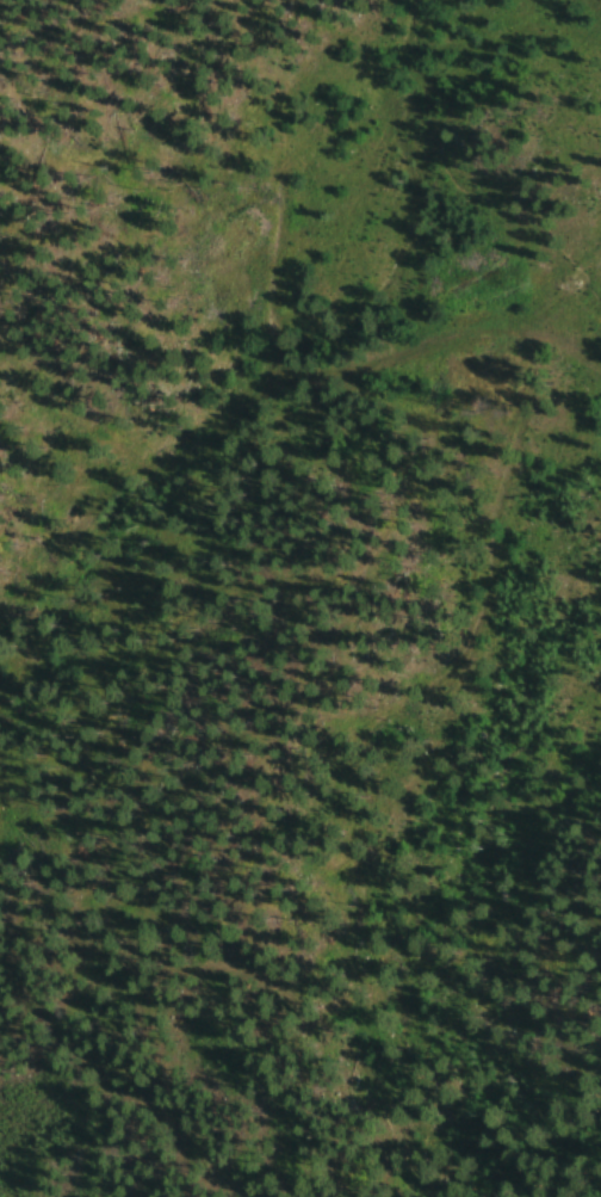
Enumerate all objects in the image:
road: (458, 181)

